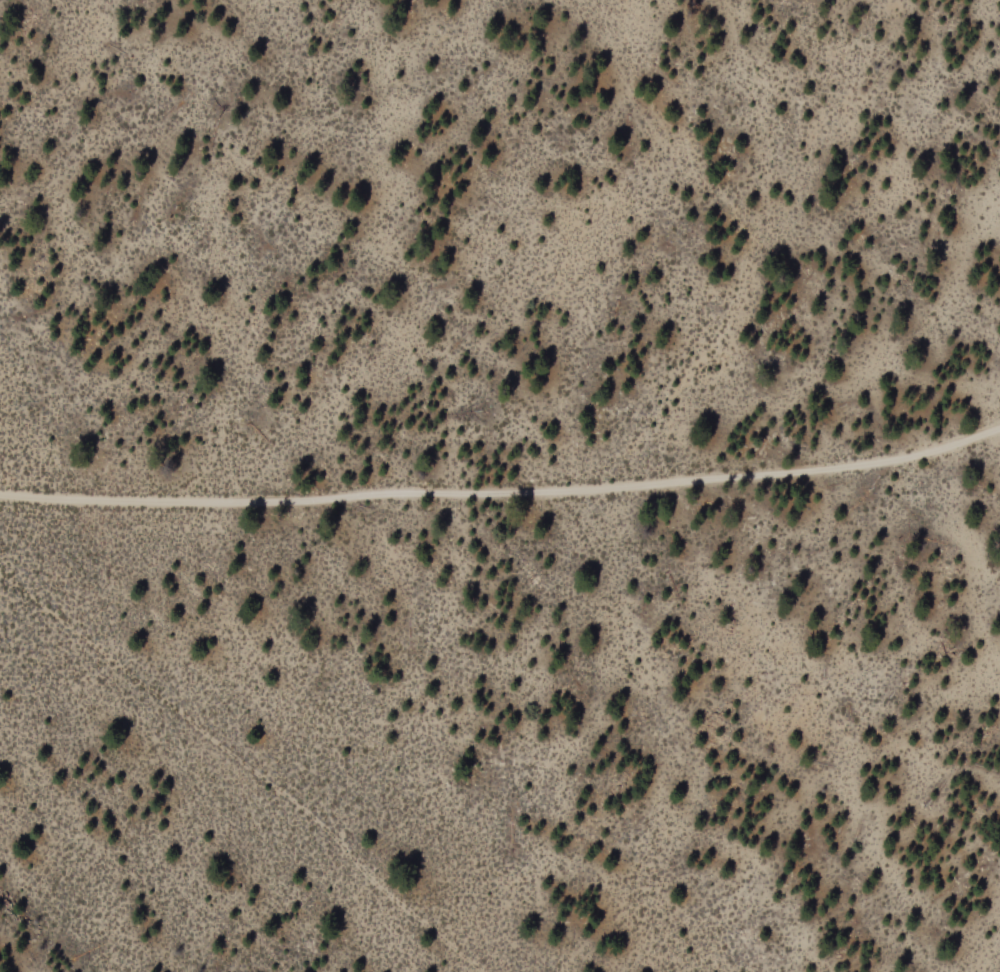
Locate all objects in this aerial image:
road: (502, 497)
road: (249, 765)
road: (346, 915)

